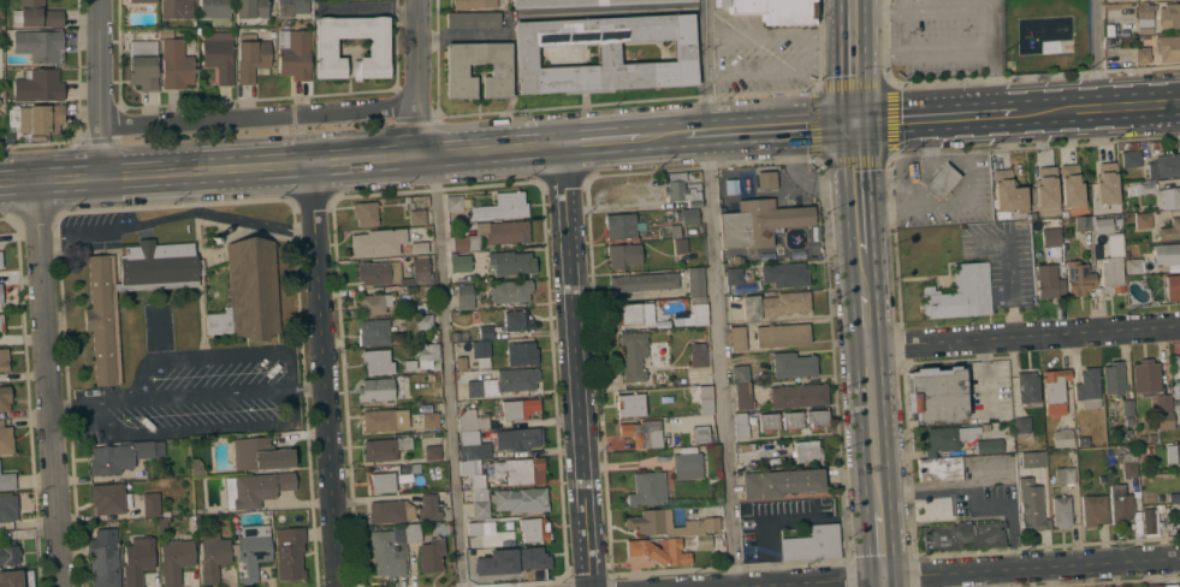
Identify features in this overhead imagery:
building: (141, 0)
building: (1109, 0)
building: (582, 2)
building: (473, 4)
building: (297, 5)
building: (214, 7)
building: (177, 8)
road: (919, 8)
building: (251, 10)
building: (775, 10)
building: (36, 14)
building: (1169, 16)
building: (1145, 18)
building: (473, 19)
building: (1110, 29)
road: (778, 36)
building: (38, 45)
building: (378, 47)
building: (1167, 48)
road: (921, 52)
building: (605, 53)
building: (293, 54)
road: (1098, 54)
building: (1142, 54)
building: (251, 57)
building: (219, 58)
road: (991, 60)
road: (853, 61)
building: (143, 65)
building: (176, 65)
road: (778, 66)
building: (456, 70)
road: (415, 77)
building: (38, 85)
road: (97, 88)
building: (0, 93)
road: (1098, 109)
road: (256, 115)
road: (935, 118)
building: (40, 119)
traffic signals: (854, 124)
road: (769, 128)
road: (662, 136)
road: (600, 141)
building: (1132, 146)
building: (1137, 154)
road: (280, 165)
building: (1164, 166)
building: (765, 180)
building: (941, 180)
building: (1105, 183)
building: (731, 185)
building: (1069, 185)
road: (856, 188)
building: (1045, 188)
building: (682, 190)
building: (1006, 191)
building: (1155, 192)
building: (407, 198)
road: (960, 198)
building: (453, 202)
building: (411, 204)
building: (510, 204)
road: (210, 213)
building: (366, 213)
building: (686, 215)
building: (416, 217)
building: (1142, 220)
building: (1116, 221)
building: (760, 223)
building: (1092, 224)
building: (621, 226)
building: (674, 230)
building: (1169, 230)
building: (493, 235)
building: (1050, 237)
road: (72, 239)
building: (376, 242)
building: (680, 245)
building: (419, 247)
building: (1166, 254)
building: (623, 255)
building: (735, 259)
building: (0, 262)
building: (509, 262)
building: (458, 263)
building: (1113, 266)
building: (420, 268)
building: (378, 273)
road: (861, 273)
road: (1009, 273)
building: (784, 274)
building: (733, 275)
building: (1078, 278)
building: (644, 281)
building: (695, 281)
building: (1048, 281)
building: (1172, 287)
building: (410, 289)
building: (248, 291)
building: (510, 291)
building: (0, 293)
road: (714, 293)
building: (960, 293)
building: (464, 296)
building: (373, 303)
building: (773, 304)
building: (696, 313)
building: (630, 314)
building: (100, 319)
road: (865, 319)
building: (423, 321)
building: (517, 321)
building: (1, 322)
building: (373, 332)
building: (485, 332)
building: (782, 334)
building: (455, 336)
road: (1022, 336)
building: (737, 338)
building: (427, 351)
building: (481, 352)
building: (521, 354)
building: (633, 355)
building: (696, 356)
building: (2, 358)
building: (375, 362)
building: (461, 363)
road: (577, 364)
building: (793, 364)
building: (1175, 367)
road: (447, 370)
road: (327, 374)
building: (739, 374)
road: (984, 376)
building: (1145, 376)
building: (1113, 378)
road: (51, 383)
building: (503, 383)
road: (313, 387)
building: (1027, 387)
building: (1087, 387)
building: (375, 390)
building: (1054, 390)
building: (797, 395)
building: (936, 395)
road: (201, 396)
building: (742, 397)
building: (5, 398)
building: (705, 399)
building: (1162, 403)
road: (78, 404)
building: (630, 404)
building: (1176, 404)
building: (1128, 407)
building: (518, 408)
building: (429, 419)
building: (817, 419)
building: (384, 420)
building: (472, 420)
building: (791, 420)
building: (1164, 421)
building: (769, 422)
building: (1021, 425)
building: (740, 427)
road: (872, 428)
building: (985, 428)
building: (1179, 431)
building: (641, 433)
building: (700, 434)
building: (1151, 437)
building: (517, 438)
building: (1062, 438)
building: (1142, 438)
building: (5, 439)
building: (945, 439)
building: (683, 440)
building: (1081, 440)
building: (988, 446)
building: (746, 447)
building: (384, 449)
building: (1149, 450)
building: (475, 451)
building: (806, 451)
building: (432, 452)
building: (260, 453)
building: (1173, 453)
building: (121, 456)
building: (1032, 459)
building: (1128, 464)
building: (687, 466)
building: (196, 468)
building: (408, 469)
building: (941, 469)
building: (524, 470)
building: (474, 474)
building: (1063, 475)
building: (7, 481)
building: (380, 482)
building: (781, 482)
building: (255, 488)
building: (647, 488)
building: (467, 494)
building: (1173, 497)
building: (108, 498)
building: (520, 499)
road: (974, 499)
building: (480, 503)
building: (1120, 503)
building: (150, 504)
building: (1031, 506)
building: (7, 508)
building: (428, 508)
building: (1093, 510)
building: (385, 511)
building: (1061, 511)
building: (1178, 511)
building: (446, 515)
building: (1151, 520)
road: (806, 521)
building: (161, 524)
building: (668, 524)
building: (1168, 526)
building: (473, 528)
building: (534, 529)
building: (411, 533)
building: (962, 533)
building: (702, 542)
building: (812, 544)
road: (880, 545)
building: (251, 550)
building: (387, 551)
building: (659, 551)
building: (289, 552)
building: (8, 553)
building: (431, 555)
building: (212, 556)
building: (103, 558)
building: (523, 558)
building: (137, 559)
building: (174, 559)
building: (480, 562)
road: (1031, 567)
road: (775, 573)
building: (11, 577)
road: (884, 582)
road: (808, 583)
building: (1154, 585)
building: (1167, 585)
building: (1175, 585)

